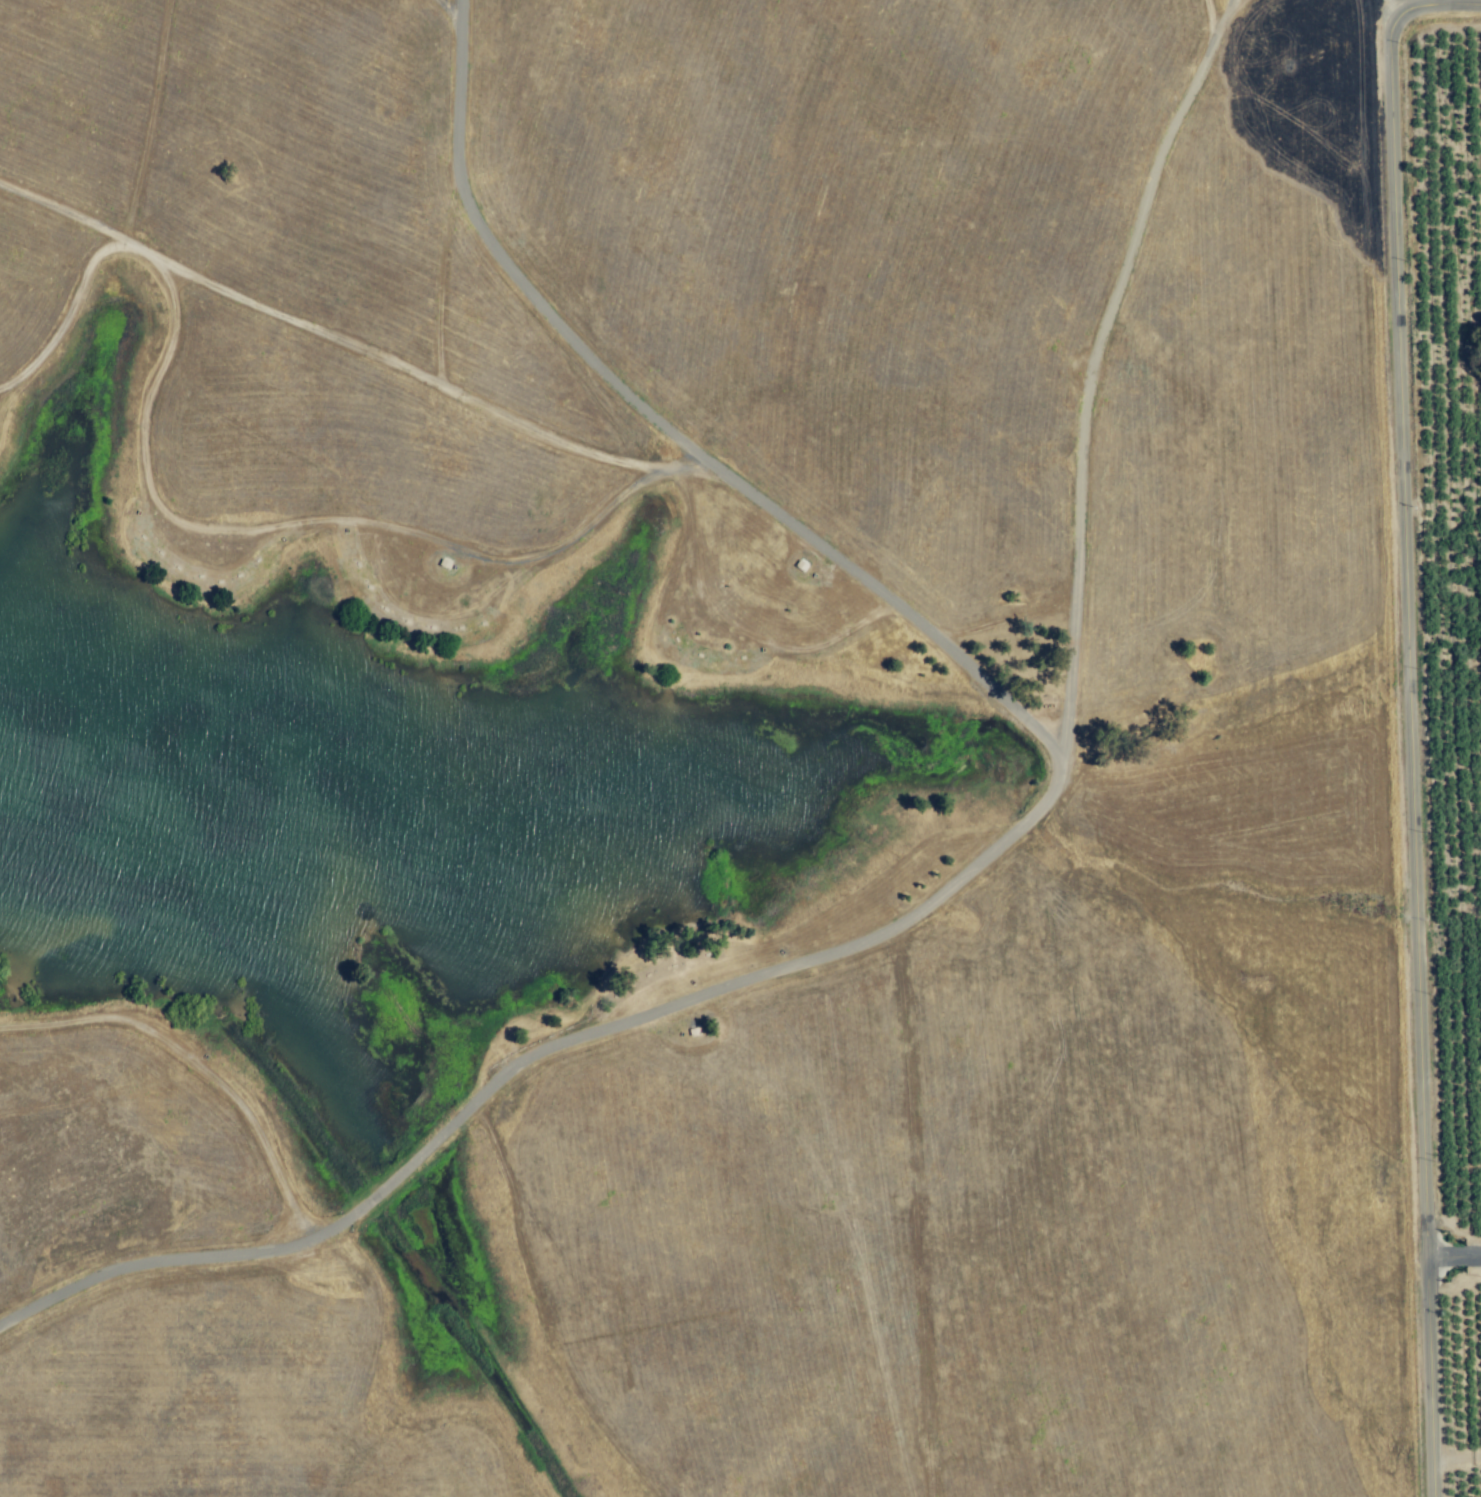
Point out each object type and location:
road: (1385, 12)
road: (1090, 368)
crop: (1445, 564)
road: (1406, 710)
road: (996, 845)
road: (1453, 1258)
road: (1456, 1458)
crop: (1455, 1484)

